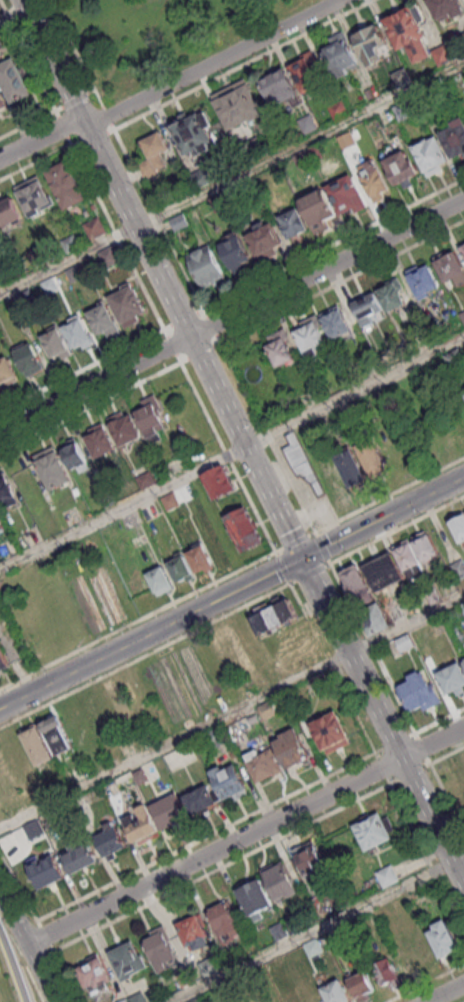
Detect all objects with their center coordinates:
building: (447, 9)
road: (13, 13)
park: (161, 35)
building: (409, 37)
building: (461, 41)
building: (1, 47)
building: (372, 47)
road: (76, 53)
road: (28, 55)
building: (444, 56)
building: (340, 57)
road: (53, 61)
road: (215, 64)
road: (241, 65)
building: (309, 75)
building: (402, 78)
building: (15, 83)
building: (278, 89)
building: (370, 95)
road: (76, 101)
building: (3, 104)
building: (238, 106)
building: (339, 111)
building: (405, 111)
road: (108, 118)
building: (309, 125)
road: (28, 126)
road: (65, 128)
road: (93, 136)
building: (194, 136)
road: (41, 139)
building: (455, 141)
road: (299, 145)
building: (156, 151)
building: (251, 152)
building: (316, 154)
building: (431, 158)
building: (302, 161)
road: (36, 162)
building: (148, 171)
building: (402, 172)
building: (201, 179)
building: (374, 182)
building: (67, 185)
building: (234, 195)
building: (34, 197)
building: (346, 198)
building: (219, 205)
building: (318, 211)
building: (10, 215)
building: (180, 224)
building: (292, 225)
building: (96, 230)
road: (117, 237)
building: (0, 240)
building: (264, 242)
building: (461, 244)
building: (71, 245)
building: (463, 252)
building: (235, 255)
building: (38, 257)
building: (111, 258)
road: (68, 262)
building: (207, 269)
building: (450, 271)
building: (76, 275)
building: (2, 281)
road: (342, 283)
building: (423, 284)
building: (50, 287)
road: (244, 288)
building: (27, 299)
building: (392, 299)
building: (129, 309)
building: (368, 312)
road: (231, 314)
building: (462, 317)
road: (184, 319)
building: (105, 324)
building: (336, 325)
road: (211, 326)
building: (80, 337)
building: (311, 339)
road: (192, 340)
building: (426, 342)
building: (58, 345)
road: (172, 346)
building: (280, 351)
road: (200, 353)
building: (29, 361)
building: (454, 361)
road: (82, 370)
building: (7, 376)
building: (463, 389)
road: (355, 394)
building: (151, 419)
building: (125, 431)
road: (267, 438)
building: (100, 444)
building: (74, 455)
building: (373, 461)
building: (302, 465)
building: (52, 469)
building: (352, 472)
building: (146, 482)
building: (219, 487)
road: (389, 493)
building: (7, 495)
building: (108, 501)
building: (171, 503)
road: (253, 505)
road: (123, 510)
road: (382, 516)
road: (397, 530)
building: (244, 533)
building: (459, 533)
road: (311, 534)
building: (426, 551)
traffic signals: (301, 558)
building: (200, 563)
building: (409, 563)
road: (283, 568)
building: (458, 570)
building: (181, 571)
road: (310, 574)
building: (385, 578)
building: (160, 584)
building: (358, 589)
building: (463, 609)
building: (273, 619)
road: (406, 627)
road: (150, 632)
parking lot: (10, 639)
building: (405, 646)
road: (370, 649)
road: (145, 656)
building: (463, 660)
building: (463, 665)
building: (3, 666)
building: (179, 671)
building: (452, 682)
building: (321, 686)
building: (419, 696)
building: (269, 712)
building: (98, 713)
road: (438, 720)
road: (381, 721)
building: (331, 736)
building: (216, 738)
building: (58, 740)
road: (173, 741)
road: (392, 741)
road: (420, 748)
building: (38, 749)
building: (291, 752)
road: (446, 754)
road: (382, 766)
crop: (457, 767)
building: (263, 769)
road: (411, 772)
building: (141, 779)
building: (228, 785)
road: (288, 794)
road: (446, 797)
building: (199, 804)
building: (169, 816)
parking lot: (64, 828)
building: (141, 829)
road: (243, 836)
building: (374, 836)
building: (110, 845)
parking lot: (26, 846)
road: (428, 854)
road: (458, 860)
building: (79, 862)
building: (311, 863)
road: (223, 866)
building: (45, 877)
building: (388, 878)
building: (279, 884)
road: (19, 887)
building: (255, 900)
building: (339, 901)
building: (223, 924)
building: (294, 926)
building: (280, 931)
road: (313, 932)
road: (46, 936)
building: (193, 936)
building: (443, 944)
building: (314, 949)
road: (27, 952)
building: (162, 953)
building: (414, 953)
building: (129, 965)
building: (214, 967)
road: (11, 971)
road: (65, 976)
building: (388, 977)
building: (94, 979)
building: (187, 981)
road: (425, 982)
building: (362, 988)
road: (445, 992)
building: (335, 994)
building: (139, 999)
building: (126, 1001)

